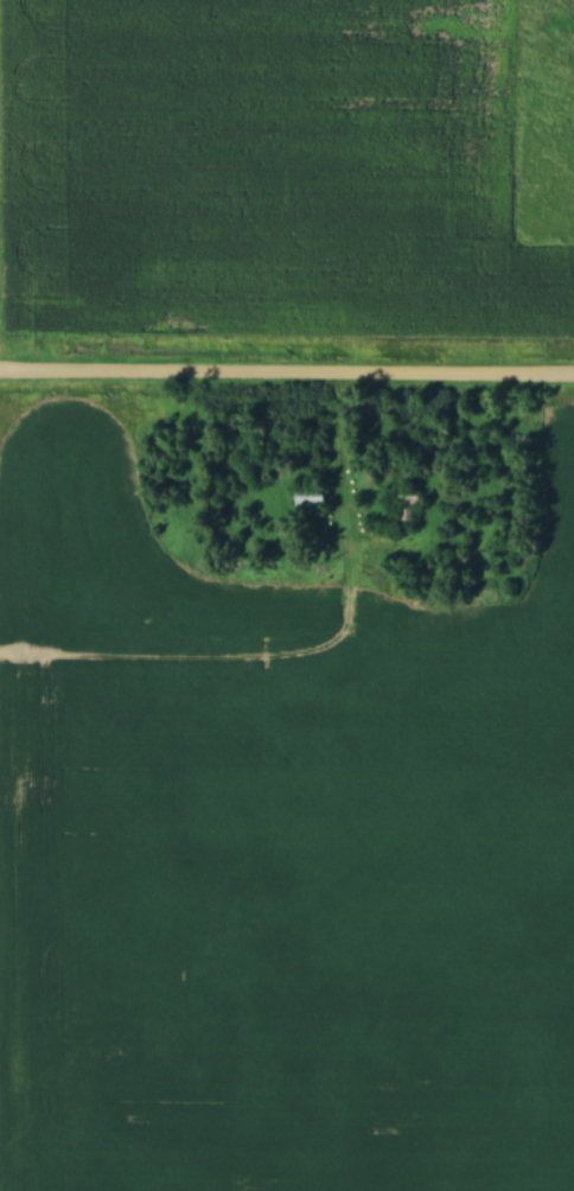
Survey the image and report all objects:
road: (287, 371)
building: (314, 496)
building: (410, 505)

